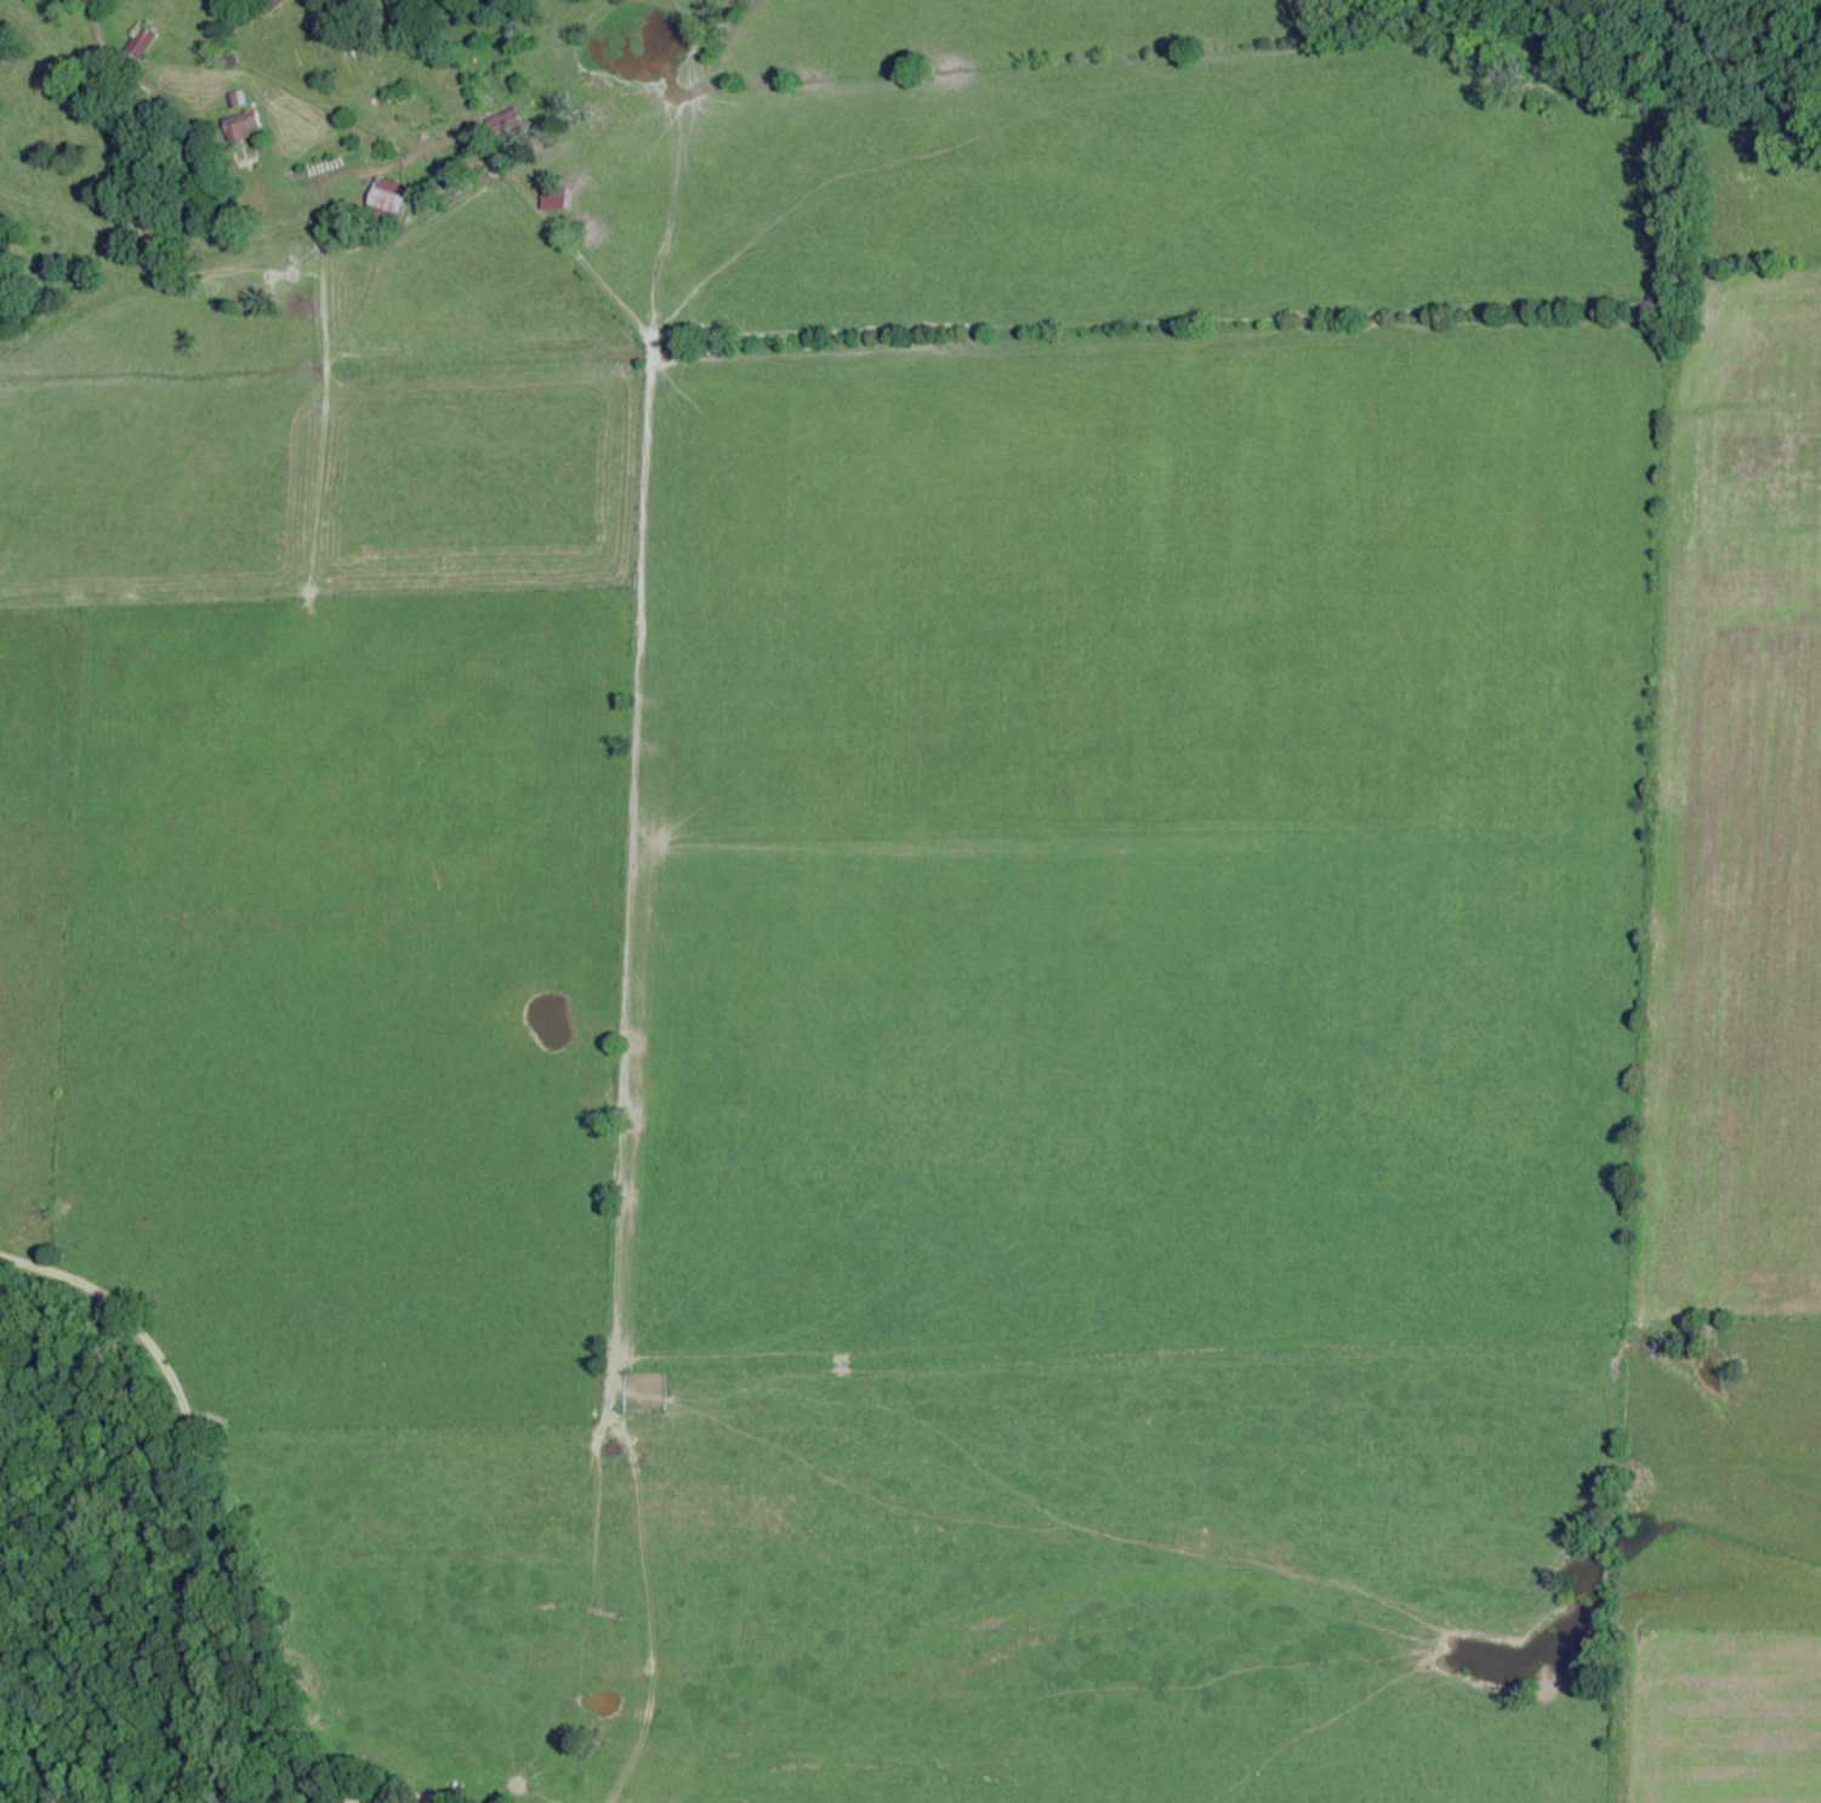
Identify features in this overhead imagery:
building: (267, 4)
building: (136, 44)
building: (237, 137)
building: (383, 195)
building: (551, 195)
road: (224, 1545)

